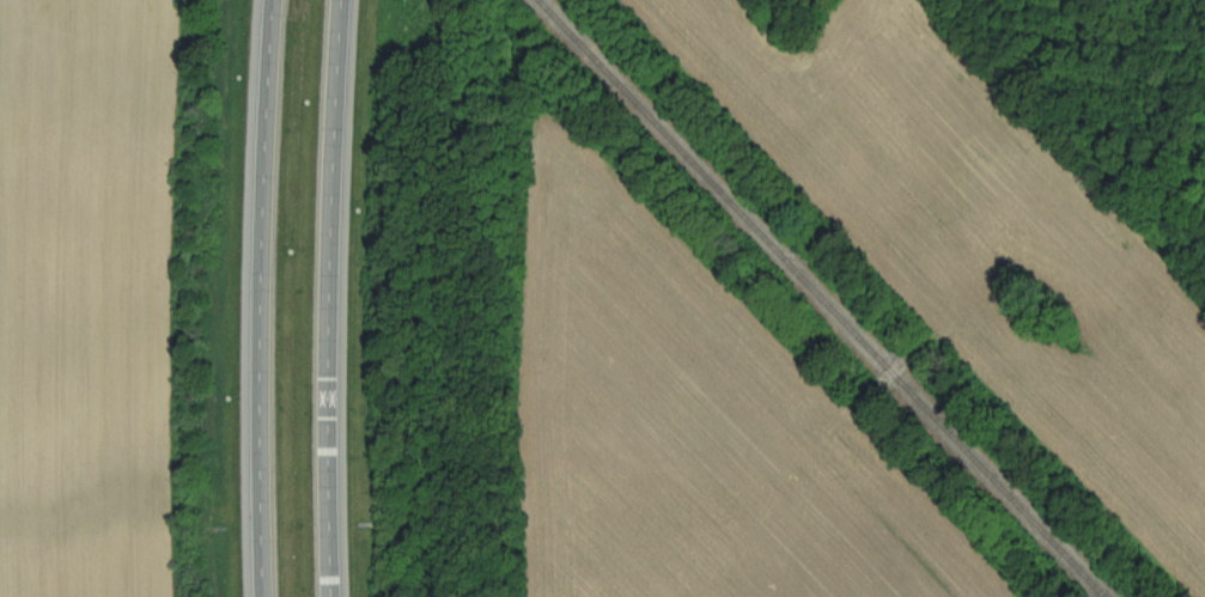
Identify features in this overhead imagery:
road: (260, 298)
road: (328, 298)
railway: (821, 298)

